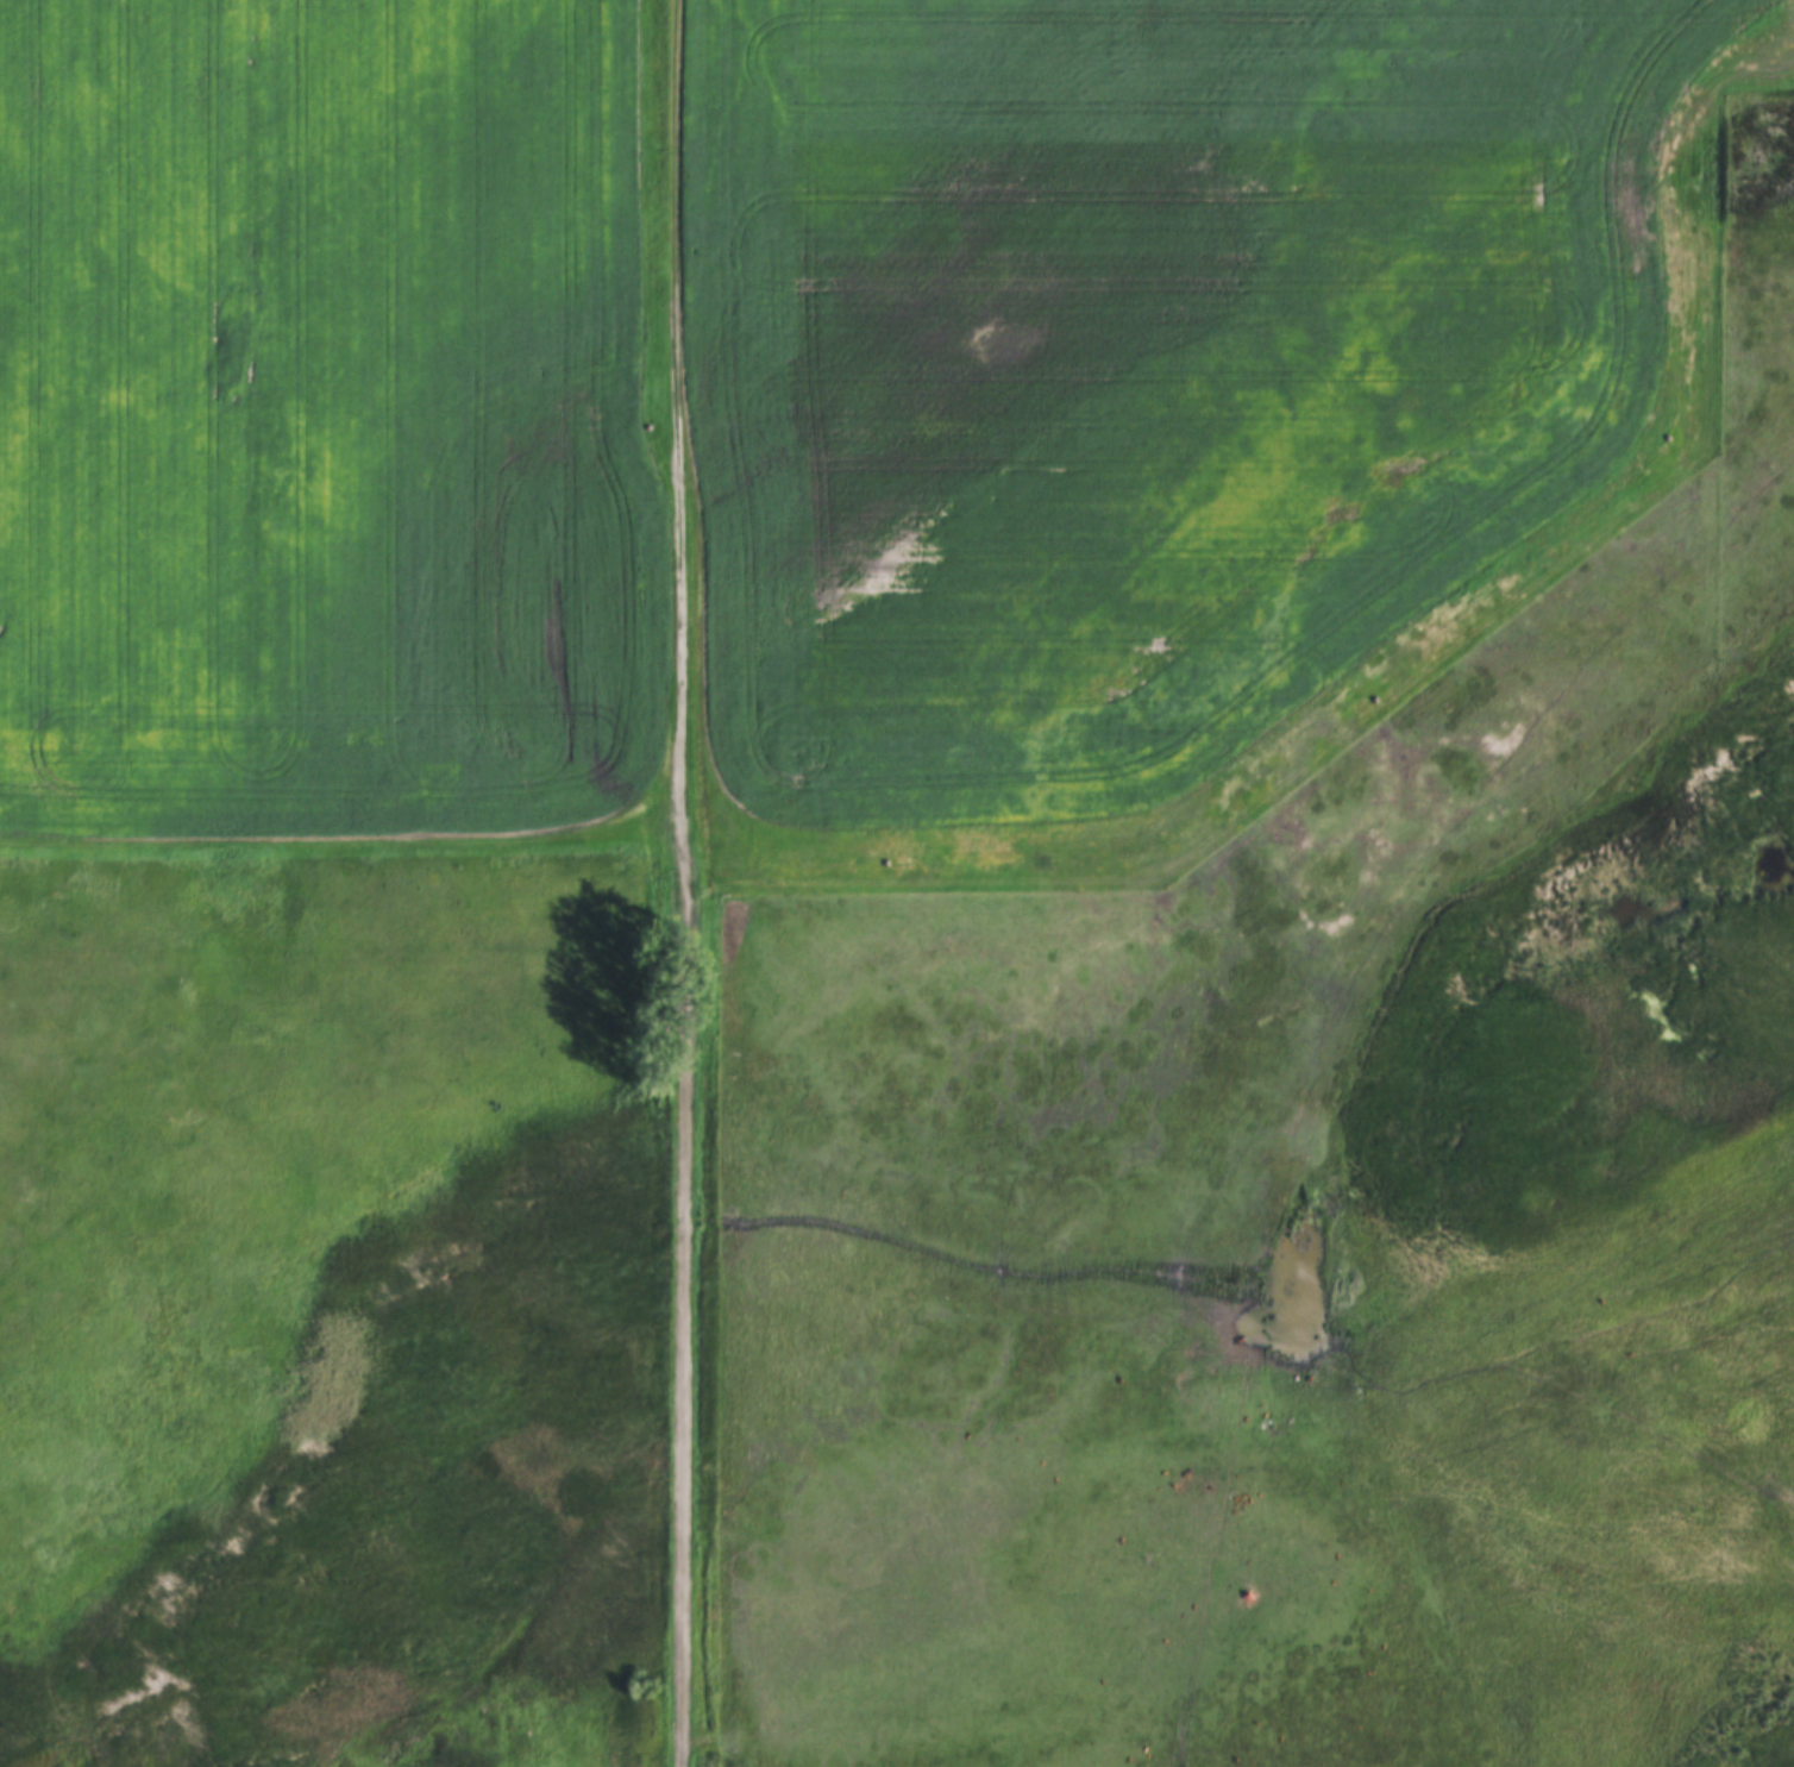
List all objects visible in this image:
road: (683, 883)

